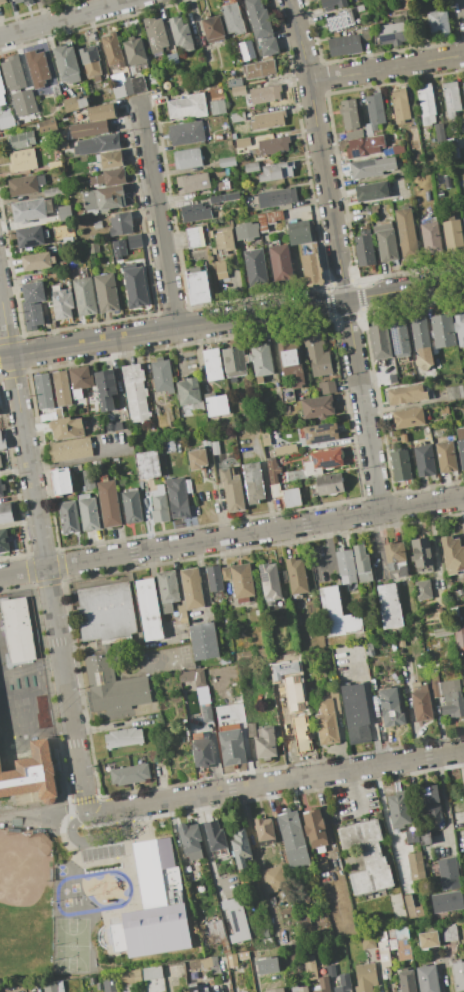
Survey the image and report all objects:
building: (2, 1)
building: (23, 1)
building: (332, 3)
building: (406, 3)
building: (359, 8)
road: (65, 18)
building: (233, 19)
building: (258, 19)
building: (340, 20)
building: (437, 23)
building: (213, 28)
building: (156, 34)
building: (181, 34)
building: (392, 34)
building: (365, 35)
building: (344, 44)
building: (269, 46)
building: (113, 49)
building: (246, 50)
building: (135, 51)
building: (90, 61)
building: (67, 64)
building: (37, 68)
road: (387, 68)
building: (258, 69)
building: (13, 72)
building: (151, 79)
building: (234, 82)
building: (138, 83)
building: (463, 86)
building: (123, 88)
building: (56, 90)
building: (238, 90)
building: (1, 92)
building: (265, 93)
building: (30, 94)
building: (451, 96)
building: (83, 103)
building: (427, 103)
building: (71, 104)
building: (196, 105)
building: (400, 105)
building: (375, 110)
building: (101, 112)
building: (350, 115)
building: (237, 117)
building: (268, 120)
building: (6, 122)
building: (47, 125)
building: (462, 125)
building: (89, 129)
building: (367, 130)
building: (185, 133)
building: (440, 133)
building: (354, 134)
building: (412, 134)
building: (22, 140)
building: (243, 142)
building: (97, 144)
building: (64, 145)
building: (274, 145)
building: (368, 146)
building: (399, 149)
building: (111, 159)
building: (187, 159)
building: (22, 160)
building: (225, 161)
building: (251, 167)
building: (371, 167)
building: (276, 171)
building: (110, 177)
building: (193, 182)
building: (25, 185)
building: (223, 186)
building: (52, 191)
building: (371, 191)
building: (279, 196)
building: (103, 198)
building: (221, 198)
building: (28, 210)
building: (63, 212)
building: (195, 212)
building: (295, 214)
building: (463, 214)
road: (157, 217)
building: (268, 219)
building: (463, 220)
building: (97, 224)
building: (120, 224)
building: (247, 230)
building: (406, 233)
building: (299, 235)
building: (430, 235)
building: (452, 235)
building: (194, 236)
building: (29, 237)
building: (134, 241)
building: (225, 241)
building: (386, 242)
building: (93, 248)
building: (119, 248)
building: (364, 250)
road: (338, 254)
building: (36, 261)
building: (281, 263)
building: (256, 266)
building: (311, 269)
building: (221, 270)
building: (135, 286)
building: (198, 288)
building: (106, 292)
building: (84, 296)
building: (62, 303)
building: (33, 304)
road: (232, 319)
building: (459, 327)
building: (442, 330)
building: (399, 338)
building: (379, 341)
building: (421, 343)
road: (178, 351)
building: (316, 354)
building: (261, 360)
building: (234, 361)
building: (291, 363)
building: (212, 364)
building: (162, 375)
building: (80, 380)
building: (327, 387)
building: (59, 388)
building: (105, 389)
building: (43, 391)
building: (135, 392)
building: (454, 392)
building: (190, 393)
building: (286, 394)
building: (407, 394)
building: (263, 402)
building: (216, 406)
building: (317, 407)
building: (408, 418)
building: (120, 426)
building: (67, 427)
building: (320, 433)
building: (265, 439)
building: (3, 441)
building: (461, 445)
building: (214, 447)
building: (70, 449)
building: (284, 449)
building: (446, 456)
road: (78, 459)
building: (197, 459)
building: (424, 460)
building: (323, 461)
building: (148, 465)
building: (400, 465)
building: (77, 468)
building: (0, 470)
building: (273, 477)
building: (88, 480)
building: (61, 481)
building: (253, 482)
building: (1, 489)
building: (232, 489)
building: (330, 489)
building: (177, 498)
building: (292, 498)
building: (109, 503)
building: (160, 505)
building: (131, 506)
building: (6, 512)
building: (88, 512)
building: (68, 517)
road: (231, 536)
road: (378, 540)
building: (4, 541)
road: (328, 548)
building: (422, 553)
building: (453, 553)
road: (43, 554)
building: (396, 558)
building: (362, 564)
building: (346, 566)
building: (224, 573)
building: (296, 576)
building: (214, 578)
building: (242, 580)
building: (269, 581)
building: (167, 587)
building: (422, 589)
building: (190, 593)
road: (155, 596)
building: (389, 606)
building: (149, 609)
building: (455, 611)
building: (106, 612)
building: (337, 614)
building: (18, 629)
building: (443, 632)
building: (459, 637)
building: (204, 641)
building: (401, 643)
building: (244, 656)
building: (195, 676)
building: (113, 686)
building: (452, 698)
park: (13, 700)
building: (422, 705)
building: (390, 707)
building: (206, 713)
building: (356, 713)
building: (326, 722)
building: (297, 735)
building: (123, 737)
building: (266, 743)
building: (232, 747)
building: (202, 752)
road: (462, 764)
building: (30, 770)
building: (130, 774)
road: (278, 782)
road: (354, 791)
building: (429, 800)
road: (444, 805)
building: (399, 809)
road: (42, 814)
building: (315, 830)
building: (265, 831)
building: (215, 835)
building: (415, 836)
building: (292, 838)
road: (90, 839)
building: (190, 840)
building: (241, 848)
road: (207, 853)
building: (366, 856)
building: (320, 865)
building: (416, 866)
park: (60, 869)
building: (448, 874)
building: (274, 878)
park: (74, 886)
track: (91, 892)
park: (89, 896)
park: (66, 901)
building: (446, 901)
building: (154, 904)
park: (25, 907)
building: (412, 907)
building: (236, 919)
building: (303, 920)
building: (216, 931)
building: (401, 933)
building: (450, 934)
building: (280, 935)
building: (428, 940)
building: (368, 941)
park: (71, 944)
building: (385, 946)
building: (404, 949)
building: (267, 965)
building: (309, 967)
building: (331, 970)
building: (151, 973)
building: (458, 976)
building: (131, 977)
building: (365, 977)
building: (428, 979)
building: (407, 981)
building: (344, 983)
building: (110, 984)
building: (324, 984)
building: (50, 986)
building: (127, 988)
building: (303, 988)
building: (197, 989)
building: (276, 990)

